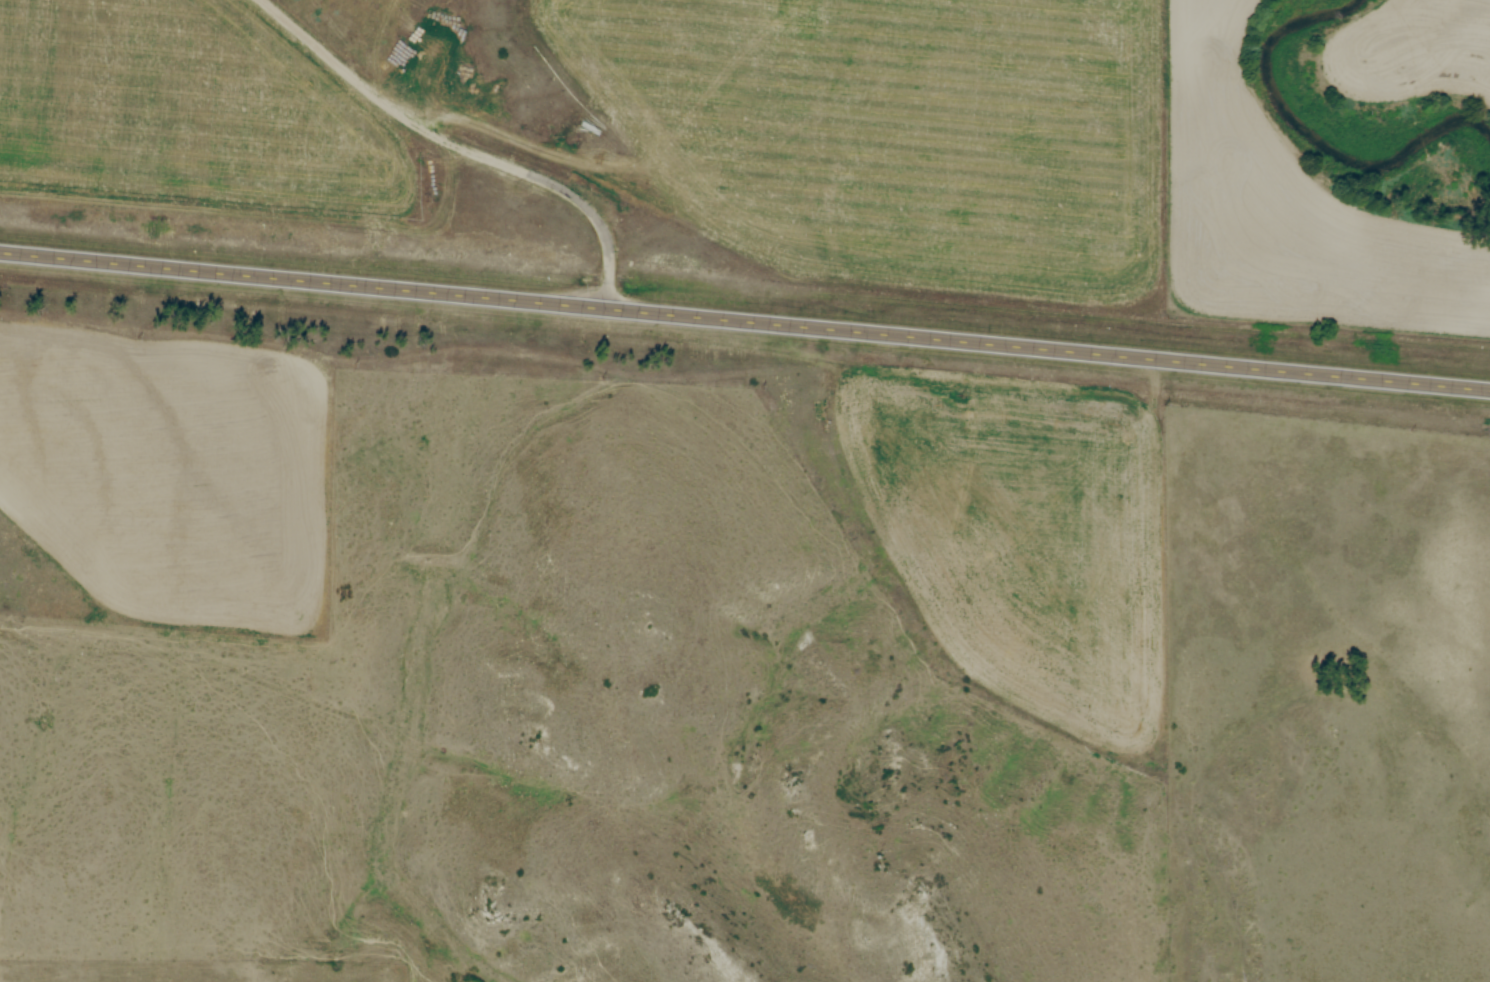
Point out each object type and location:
road: (464, 146)
road: (744, 322)

